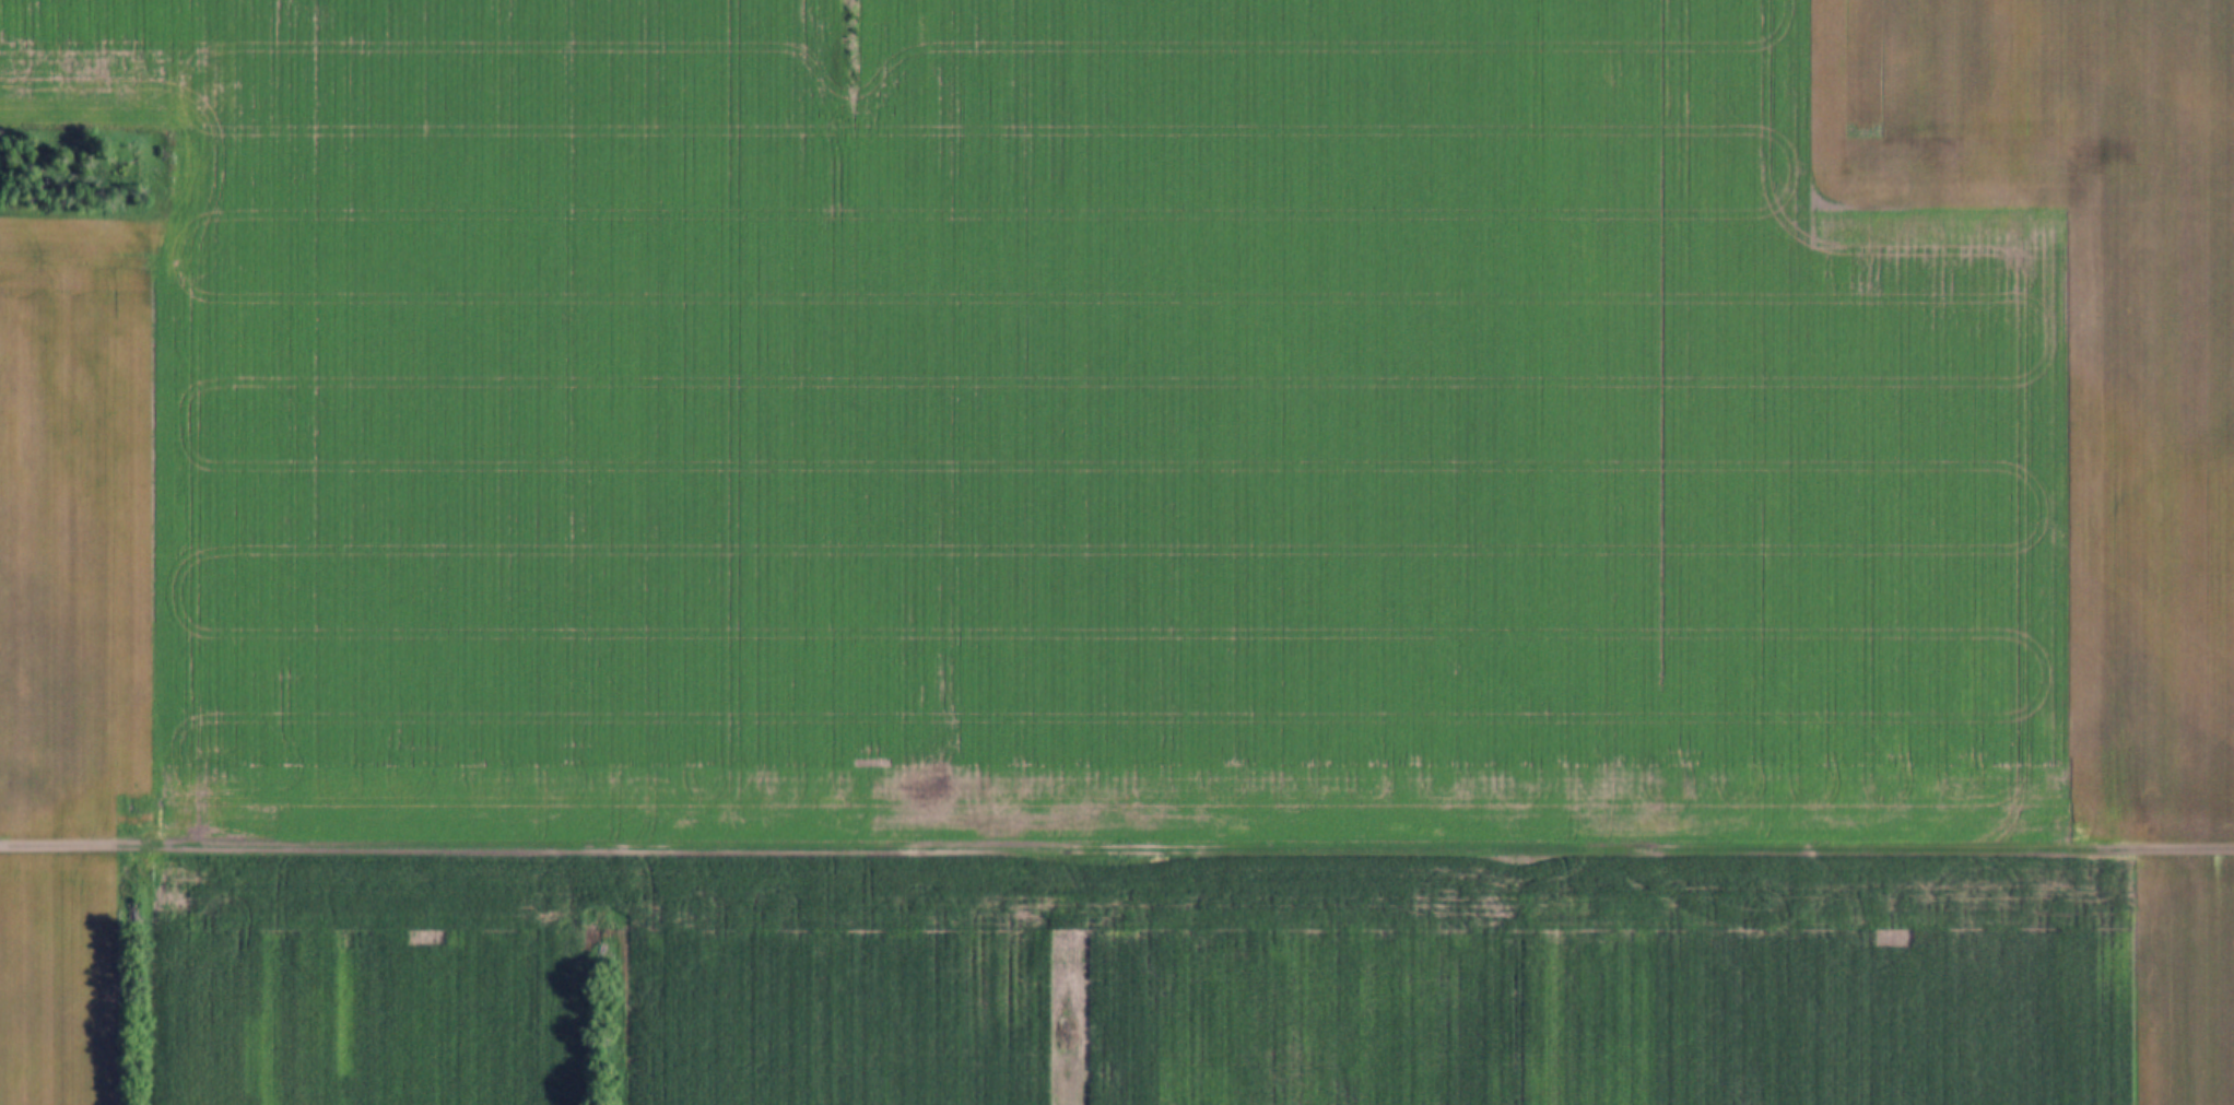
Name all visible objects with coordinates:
road: (1117, 848)

